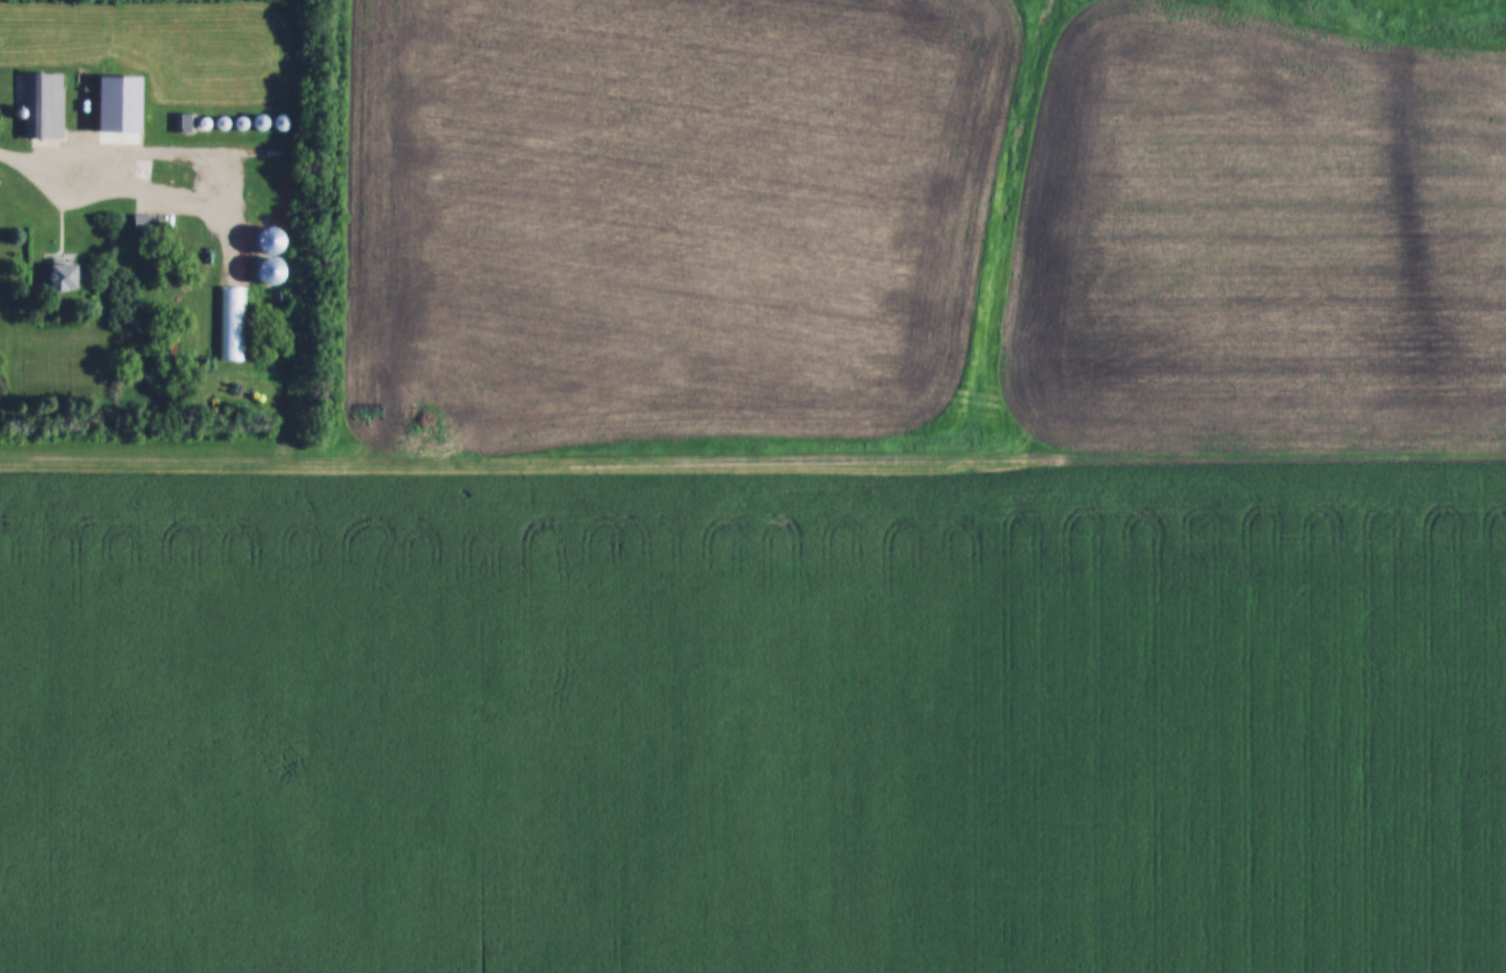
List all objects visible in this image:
road: (137, 190)
building: (276, 240)
building: (273, 272)
building: (65, 277)
building: (230, 324)
road: (753, 450)
crop: (758, 724)

